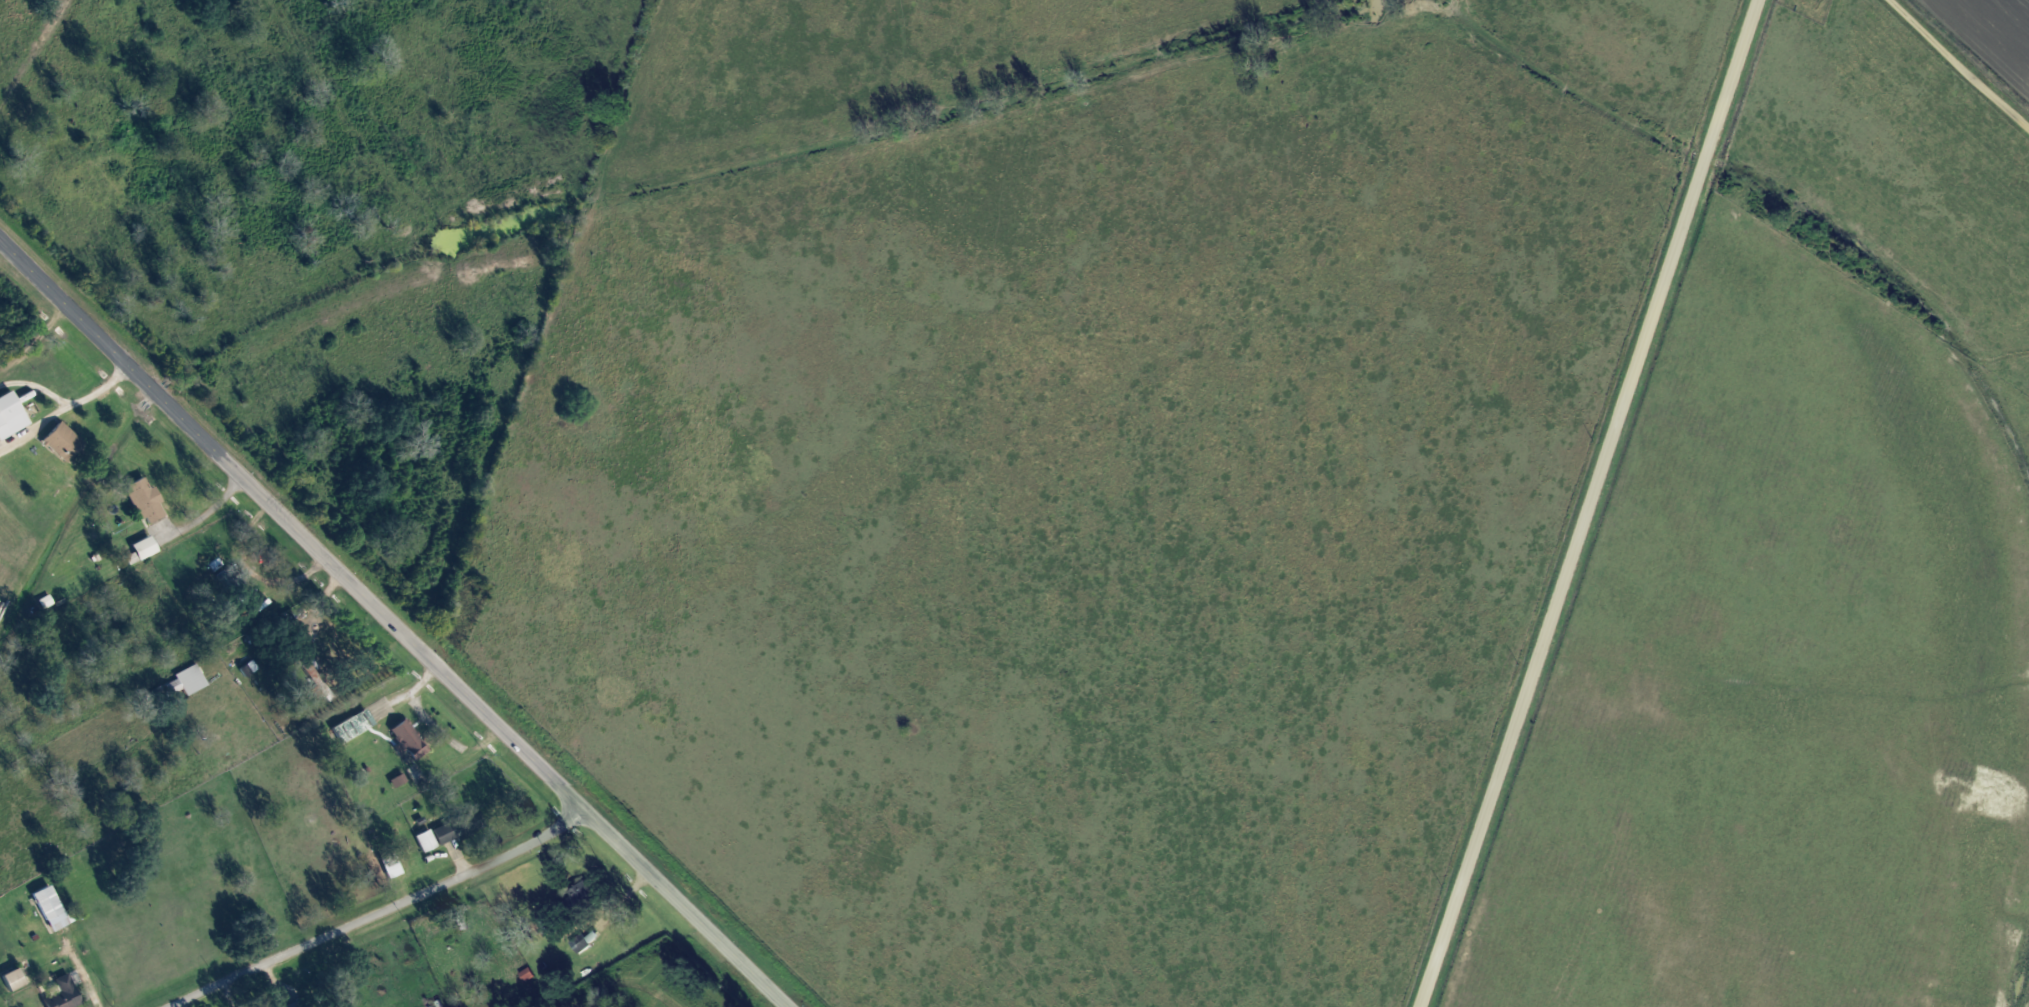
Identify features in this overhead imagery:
road: (1959, 68)
road: (34, 385)
road: (98, 386)
building: (14, 416)
road: (33, 427)
building: (68, 443)
building: (151, 503)
road: (1596, 503)
road: (157, 509)
road: (193, 518)
building: (150, 549)
road: (259, 567)
building: (49, 602)
road: (392, 624)
road: (277, 634)
building: (190, 682)
road: (423, 684)
building: (358, 727)
building: (412, 741)
building: (450, 833)
building: (430, 841)
road: (462, 865)
building: (396, 868)
road: (620, 903)
building: (56, 909)
road: (384, 912)
road: (82, 970)
road: (280, 986)
building: (66, 999)

